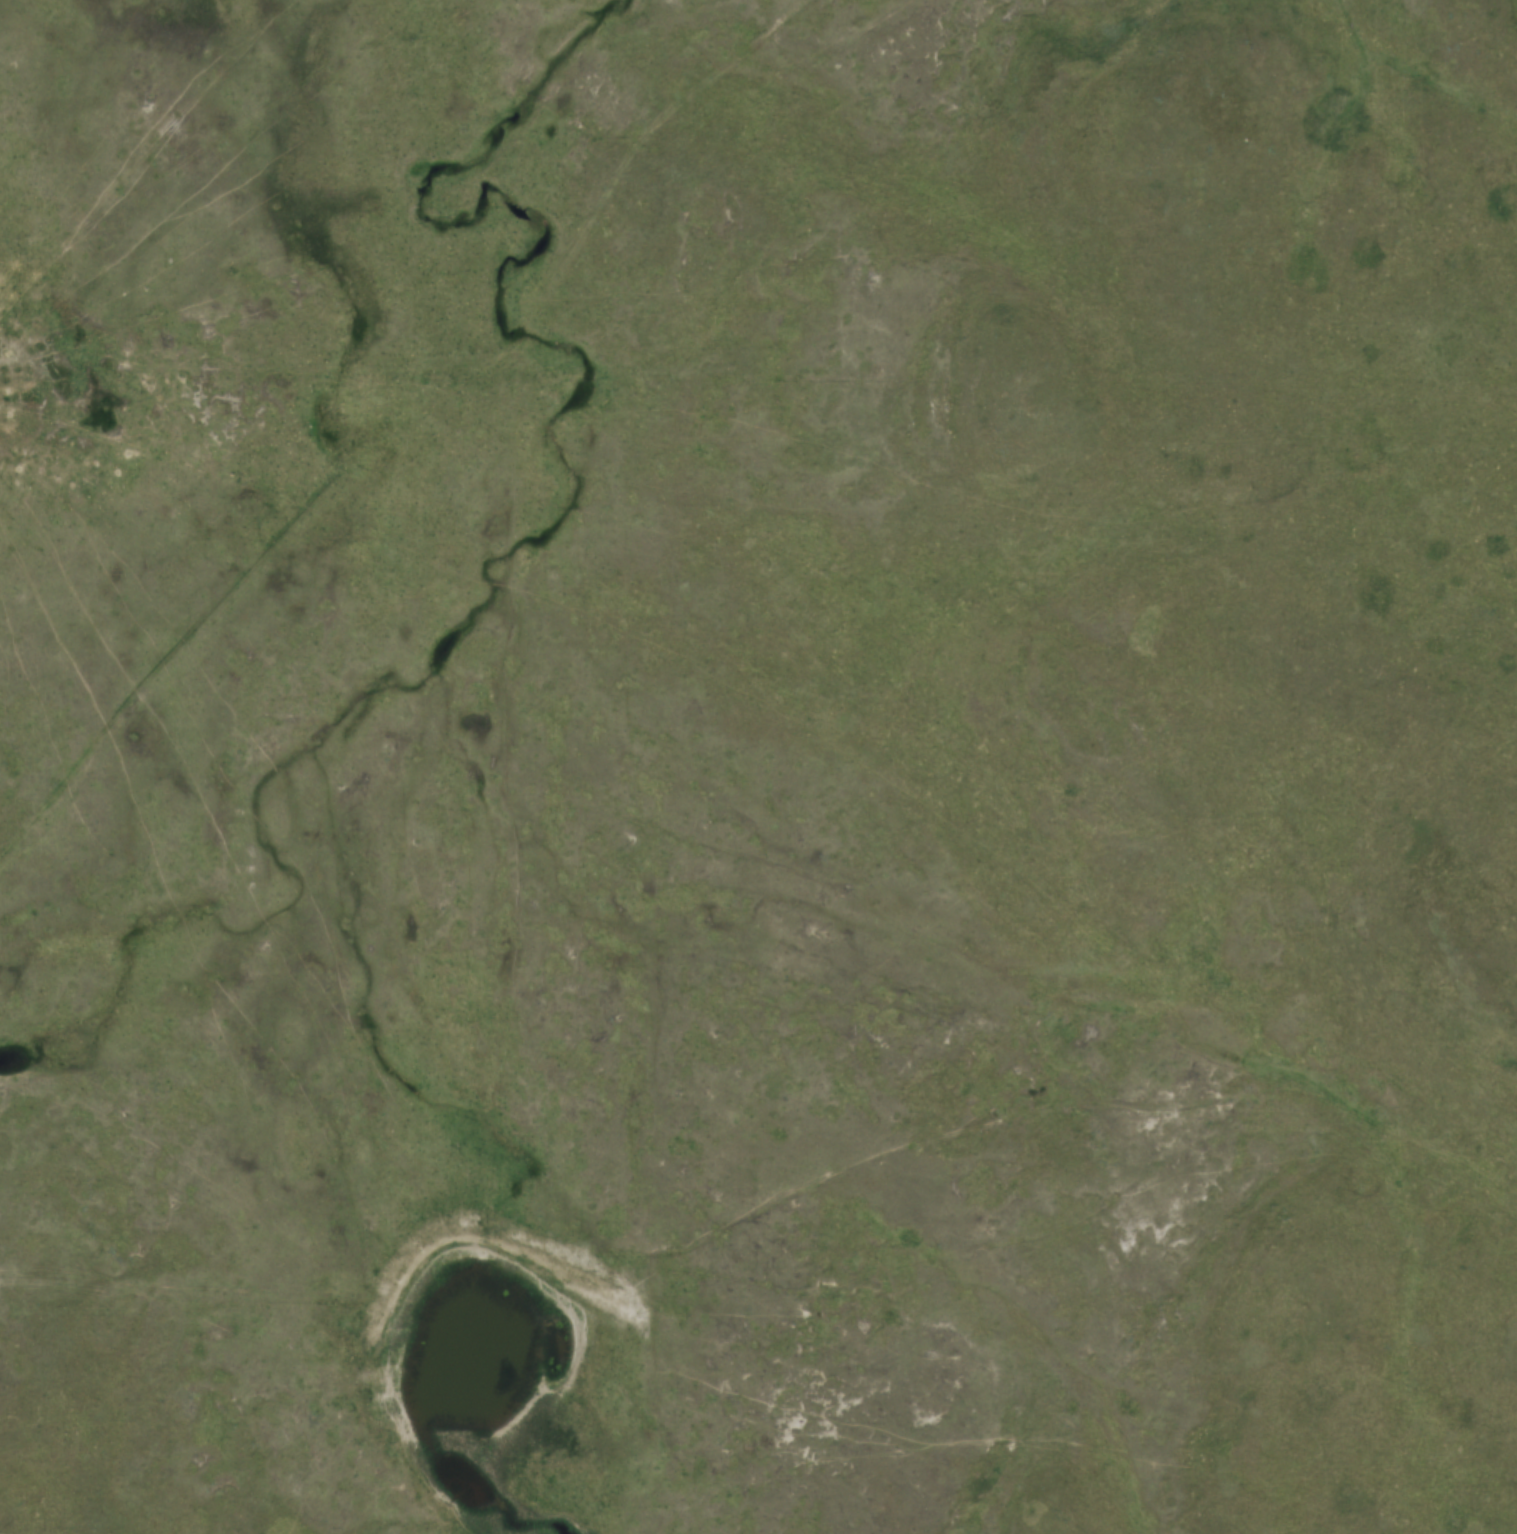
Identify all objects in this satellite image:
dam: (477, 1228)

